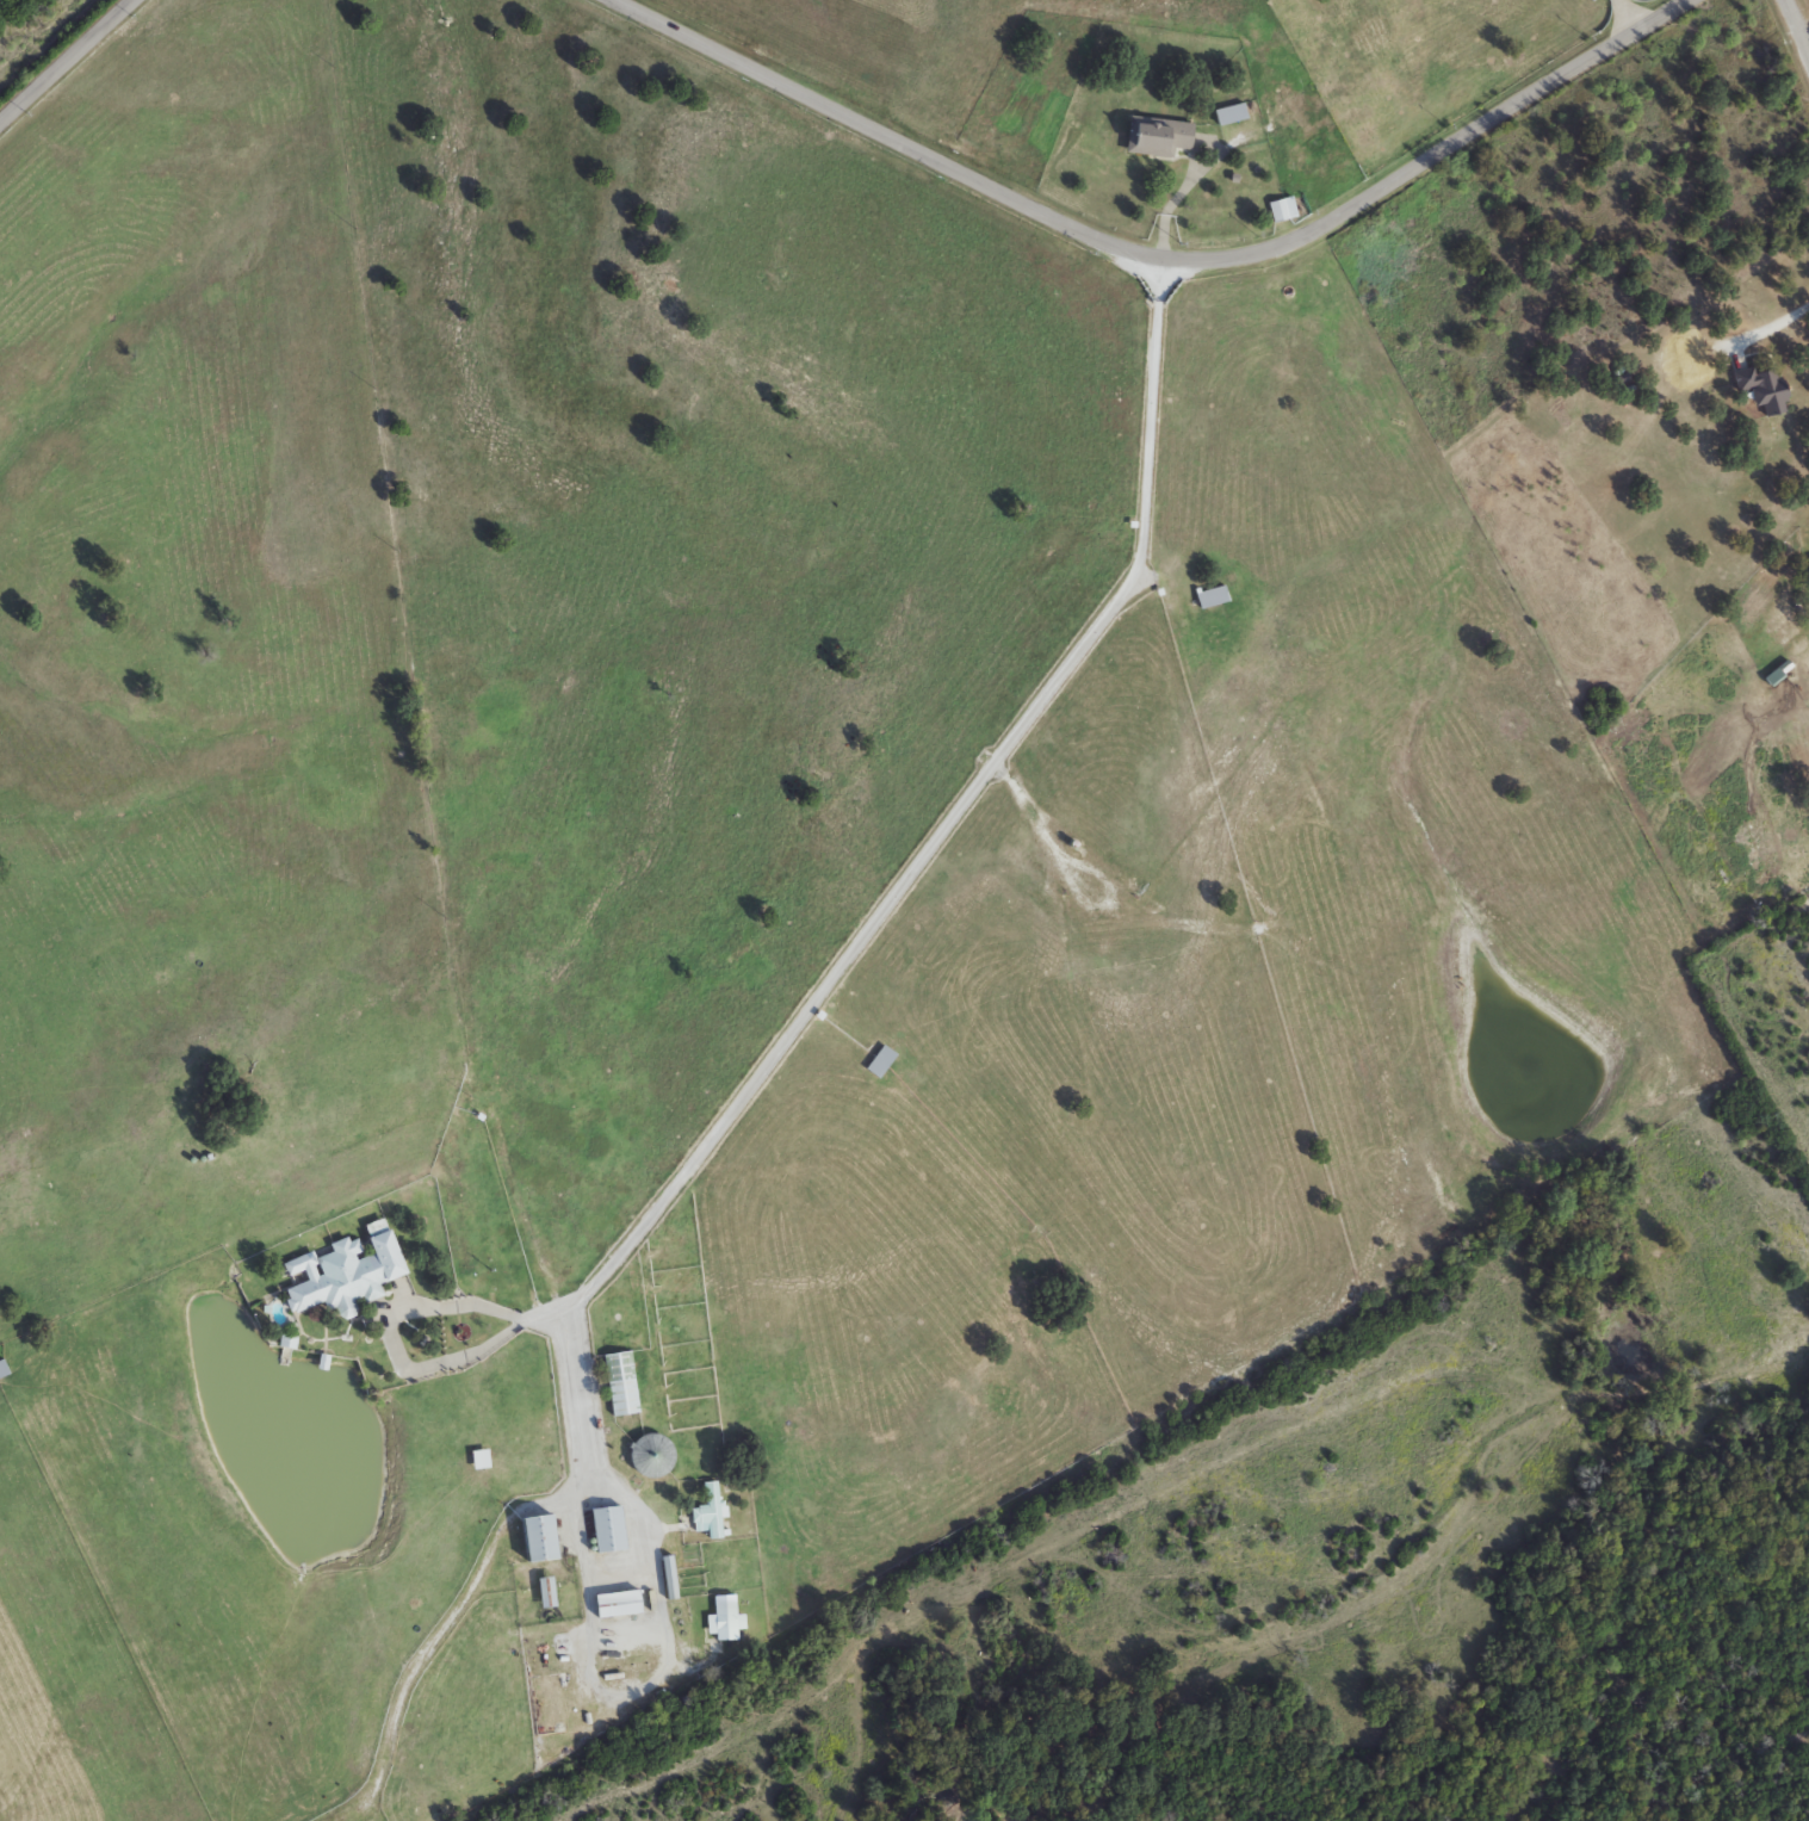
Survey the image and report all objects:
road: (1628, 14)
road: (1796, 30)
road: (63, 61)
building: (1232, 116)
building: (1160, 138)
building: (1284, 211)
road: (1156, 253)
road: (1772, 330)
building: (1765, 394)
building: (1214, 599)
road: (1028, 811)
road: (1109, 915)
building: (884, 1063)
road: (764, 1064)
building: (349, 1275)
road: (398, 1311)
road: (549, 1314)
building: (5, 1370)
building: (624, 1385)
building: (656, 1457)
building: (483, 1461)
building: (712, 1513)
building: (613, 1531)
building: (547, 1540)
building: (674, 1580)
building: (551, 1593)
building: (624, 1605)
road: (649, 1636)

